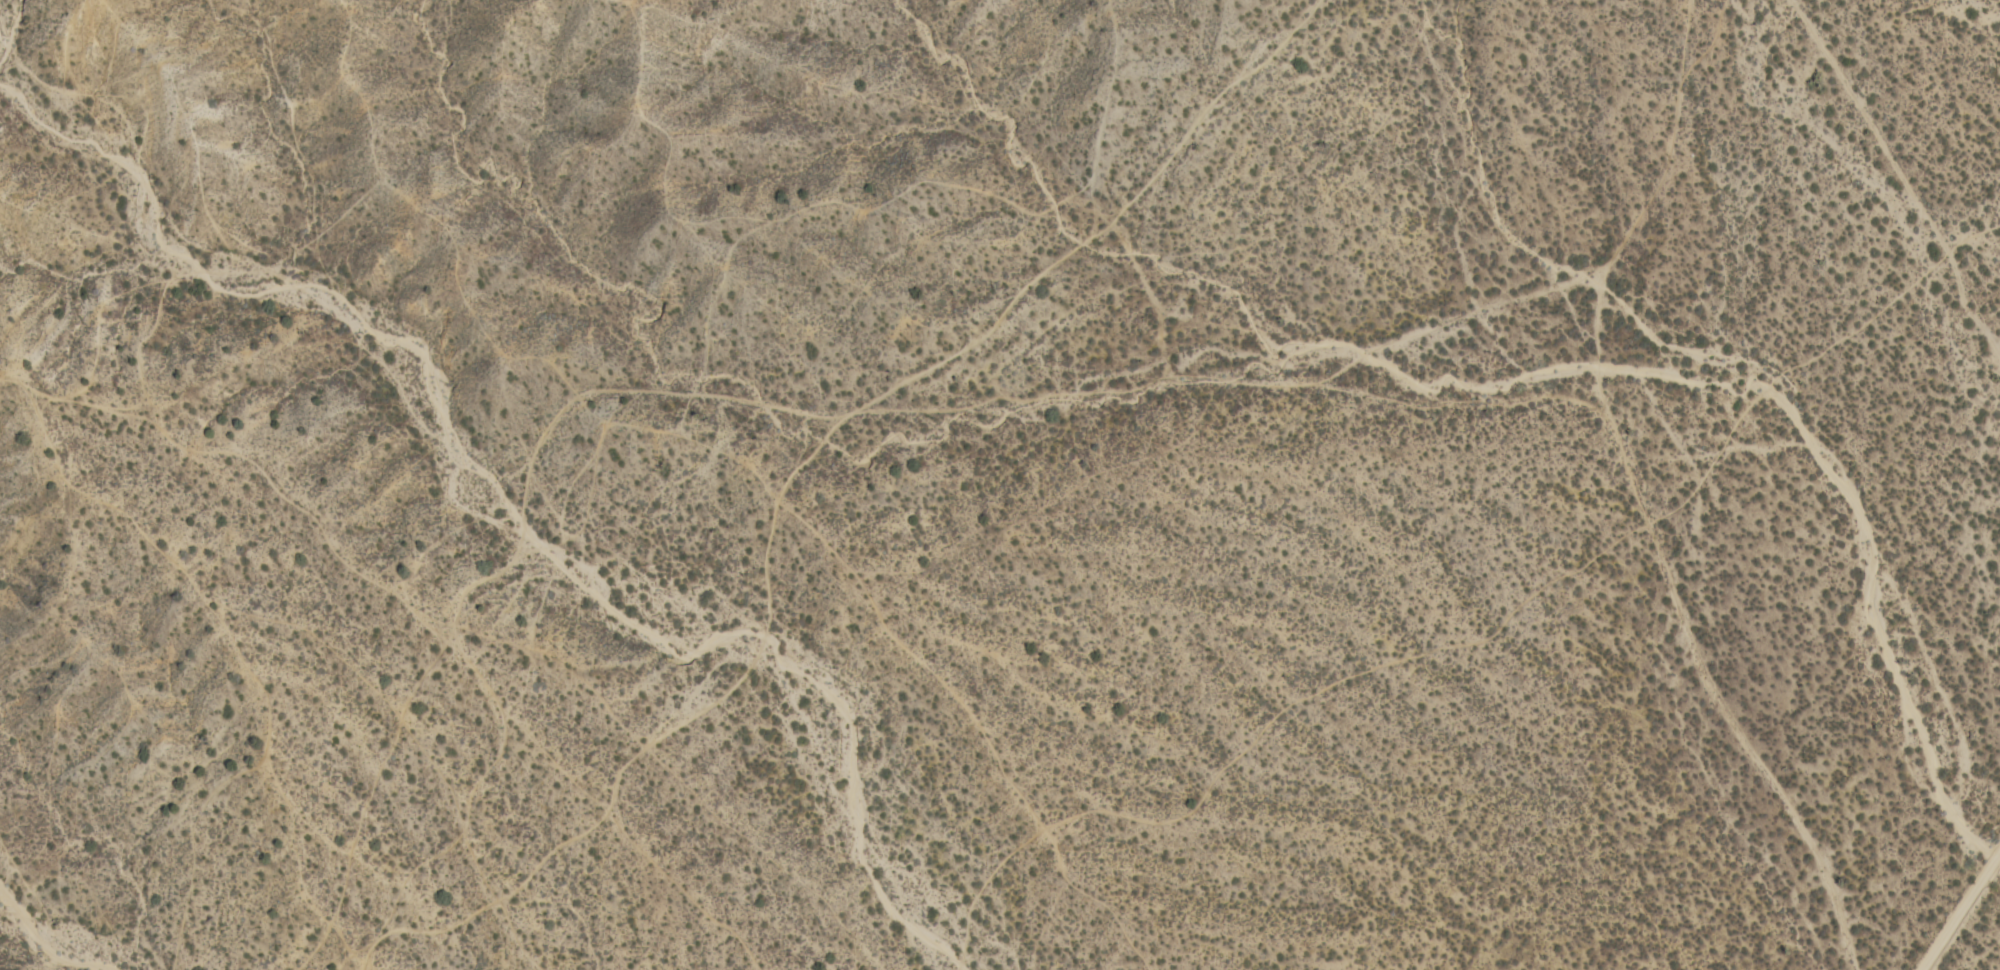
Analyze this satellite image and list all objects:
road: (1901, 175)
road: (1960, 910)

